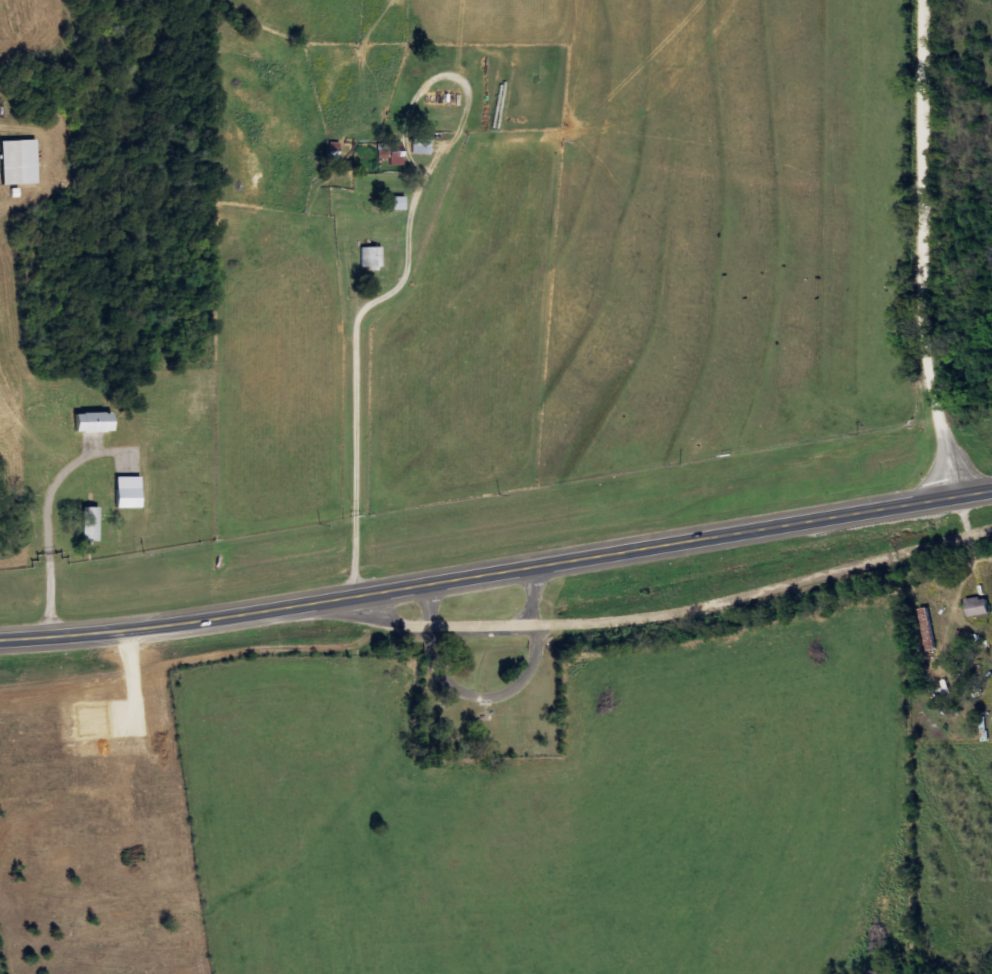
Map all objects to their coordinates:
building: (424, 147)
building: (399, 159)
building: (22, 163)
building: (401, 204)
road: (930, 249)
building: (374, 259)
building: (98, 423)
building: (132, 493)
building: (93, 525)
road: (496, 570)
building: (981, 607)

